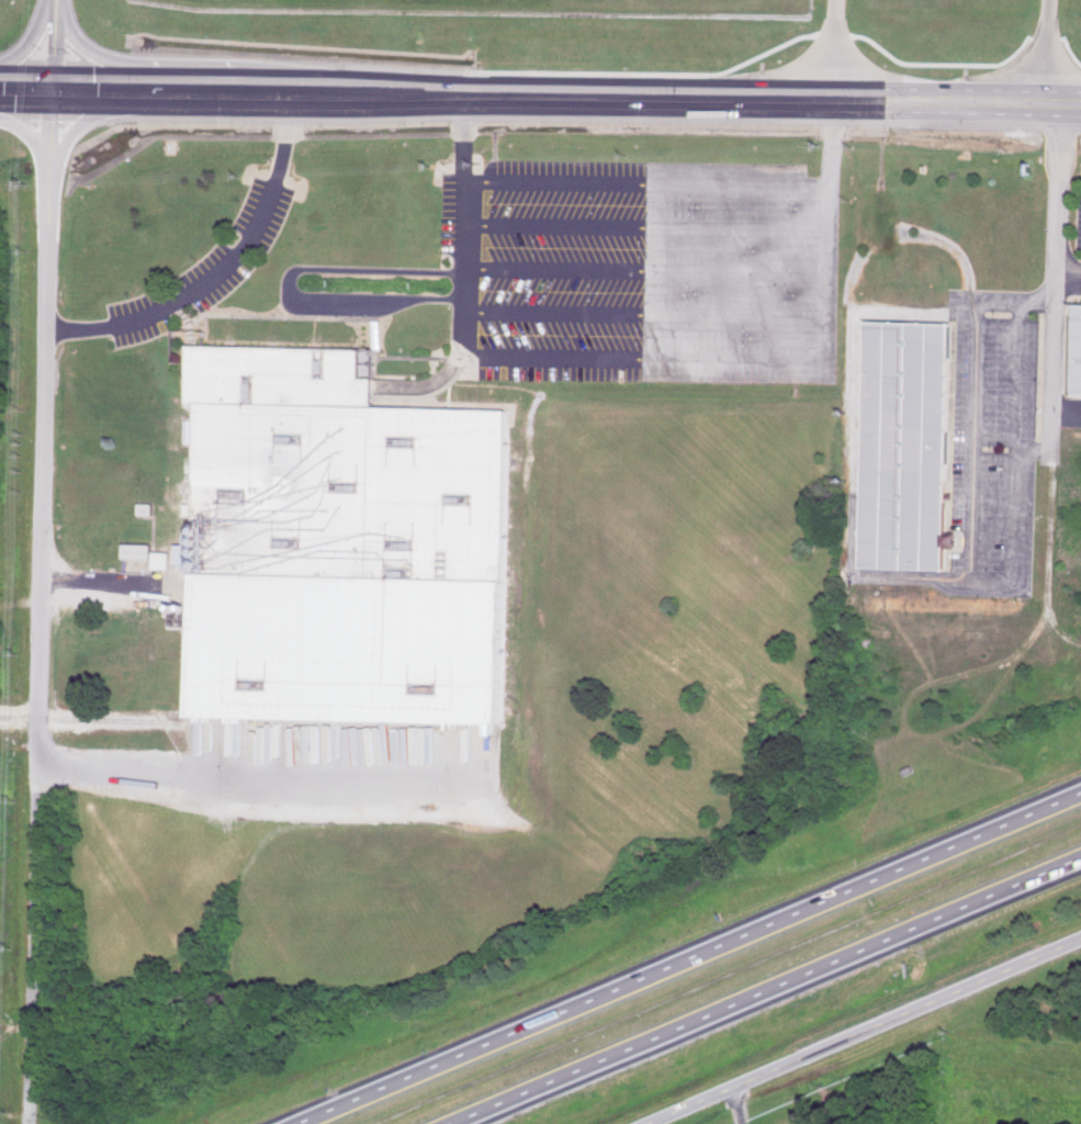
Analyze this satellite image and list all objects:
road: (53, 46)
road: (833, 53)
road: (1057, 54)
road: (25, 92)
traffic signals: (52, 93)
road: (565, 103)
road: (224, 274)
road: (1055, 324)
building: (1074, 349)
road: (637, 359)
building: (904, 446)
building: (342, 543)
building: (140, 549)
building: (165, 559)
road: (42, 608)
railway: (249, 722)
road: (255, 775)
road: (685, 957)
road: (767, 990)
road: (863, 1031)
road: (740, 1104)

